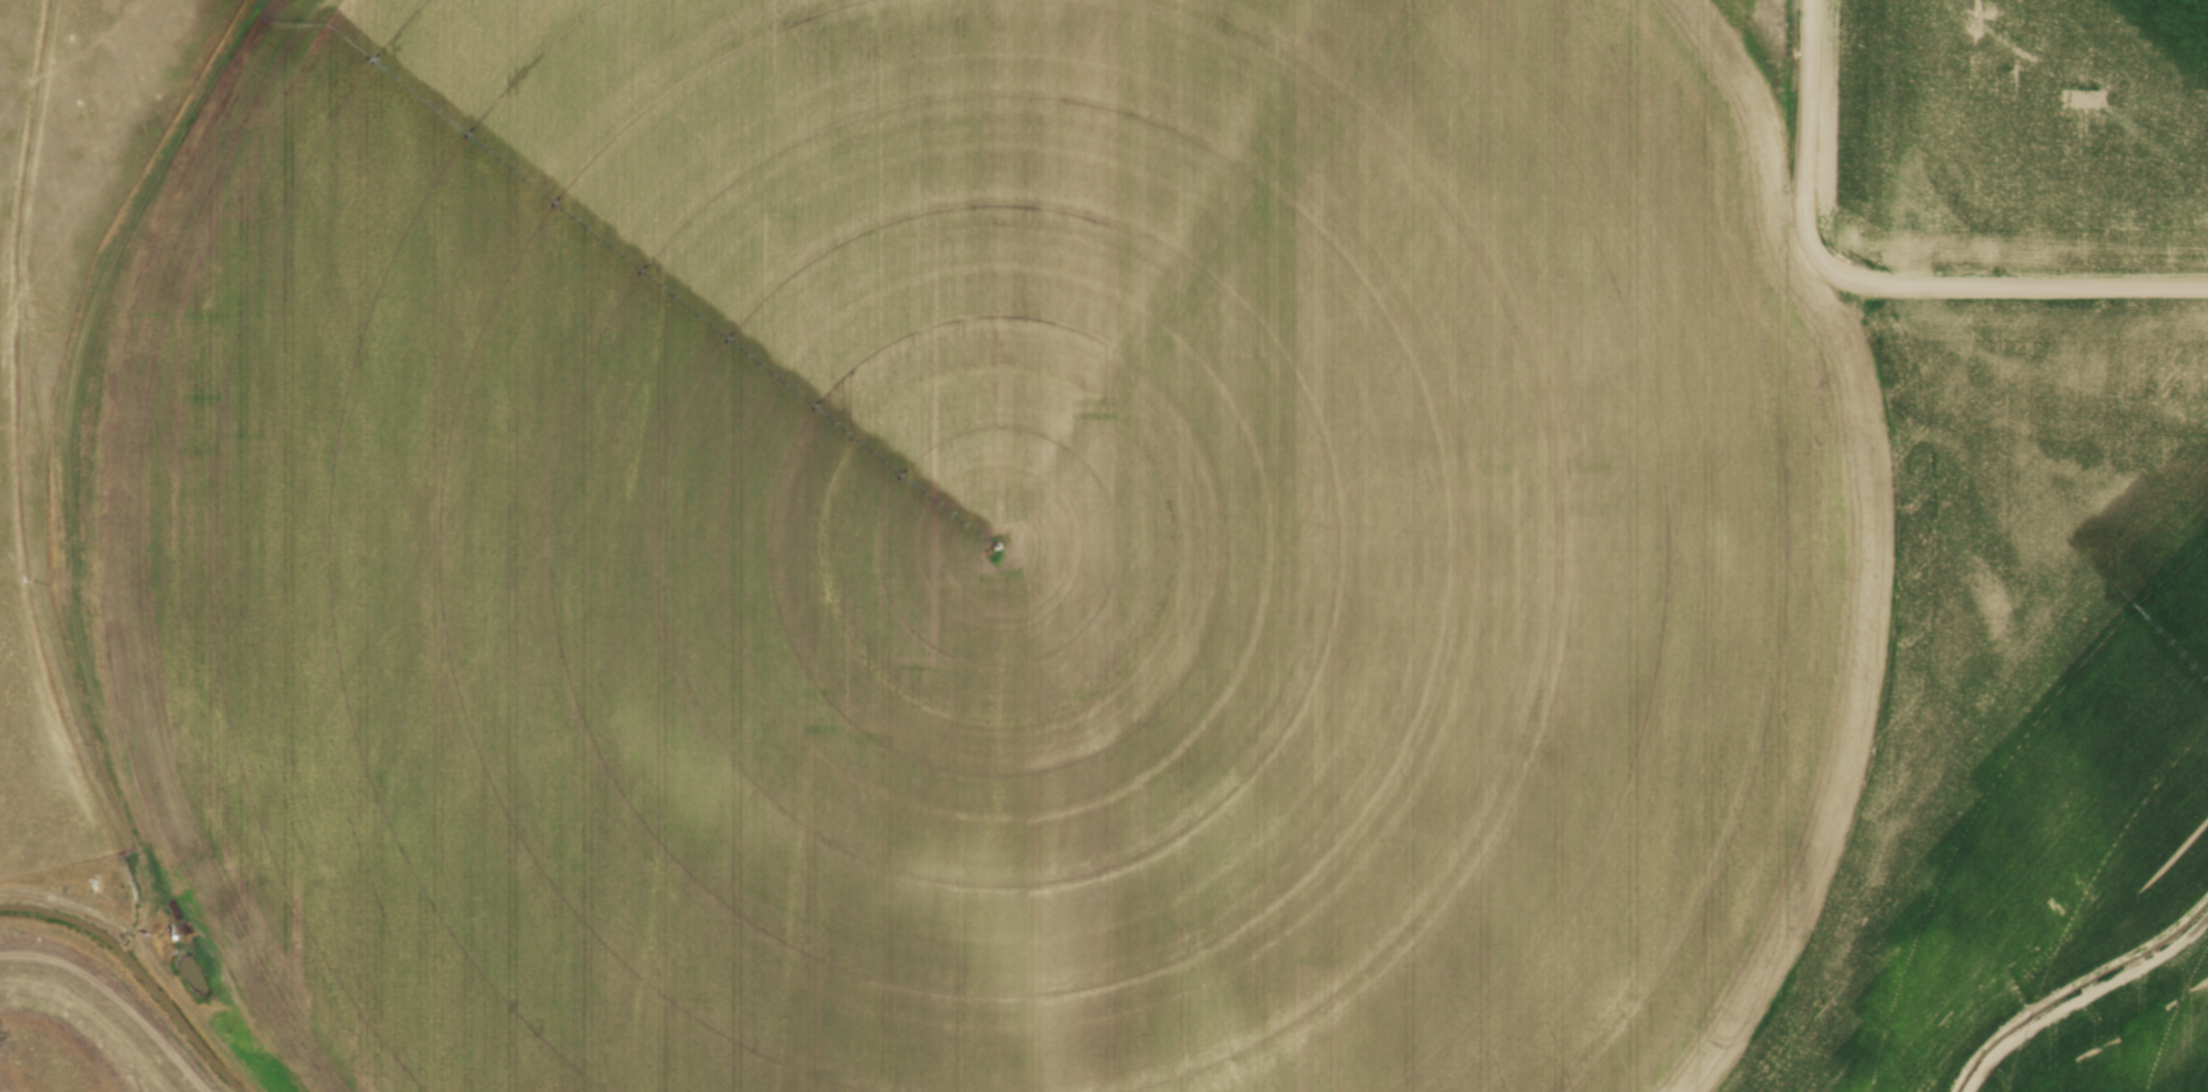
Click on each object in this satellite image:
crop: (2011, 136)
road: (1869, 289)
crop: (1117, 568)
crop: (65, 1042)

